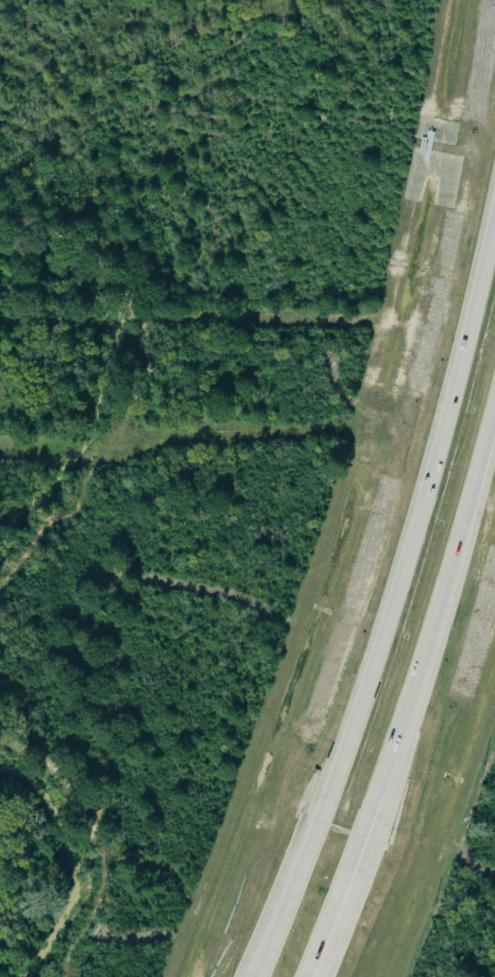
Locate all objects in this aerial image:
river: (128, 331)
road: (419, 501)
road: (440, 602)
river: (57, 845)
road: (342, 886)
road: (347, 886)
road: (291, 887)

